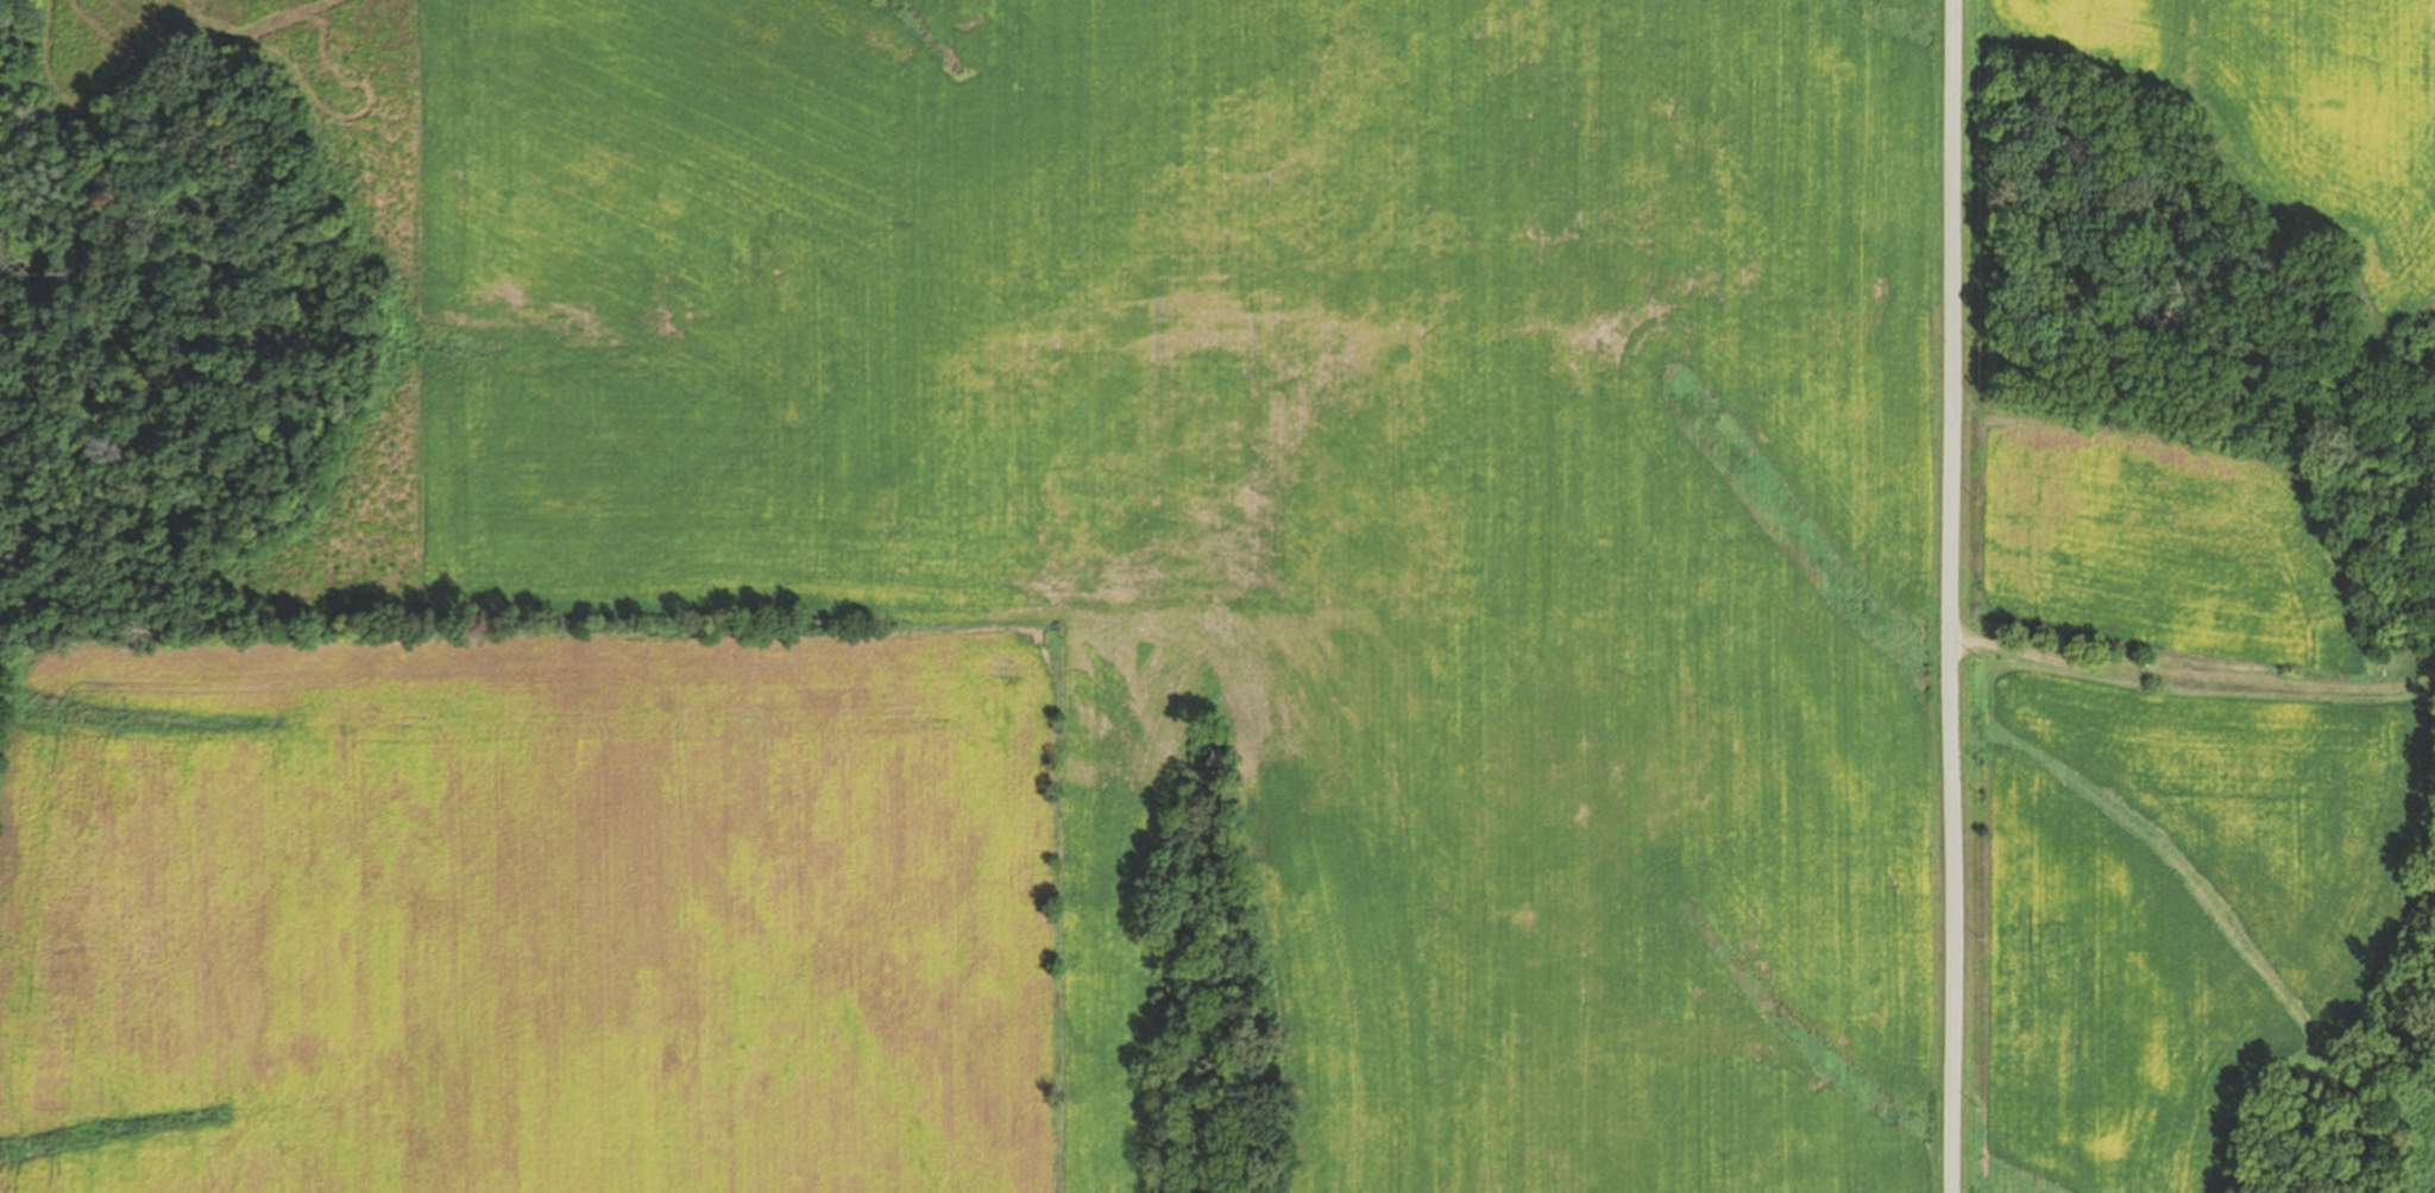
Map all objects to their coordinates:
road: (1955, 596)
road: (2194, 668)

